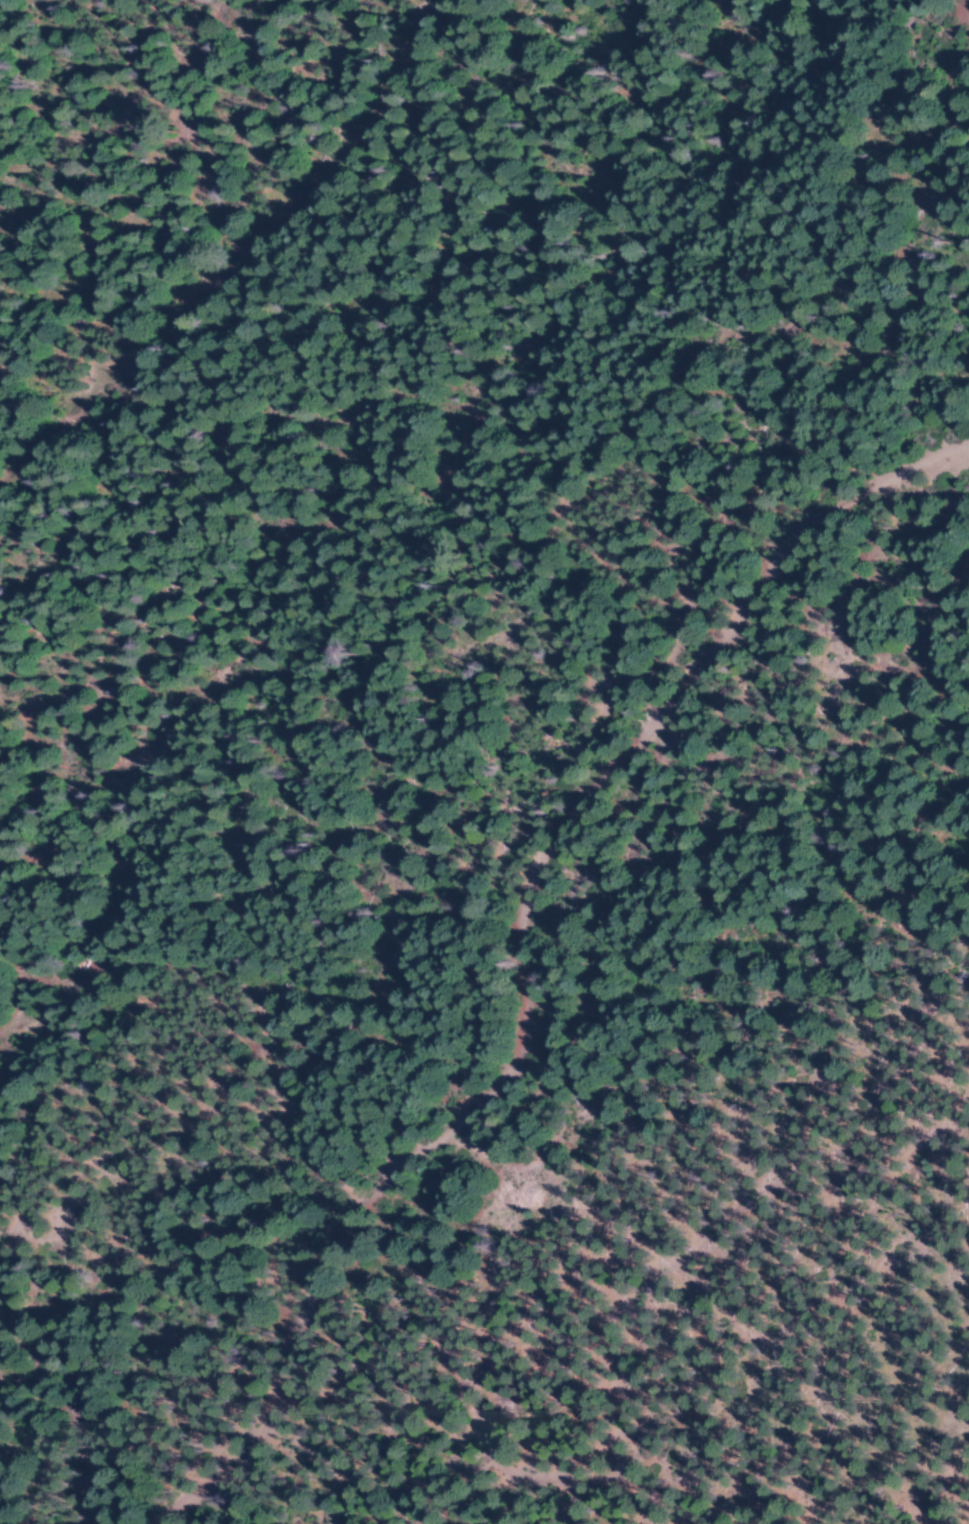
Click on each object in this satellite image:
road: (229, 265)

